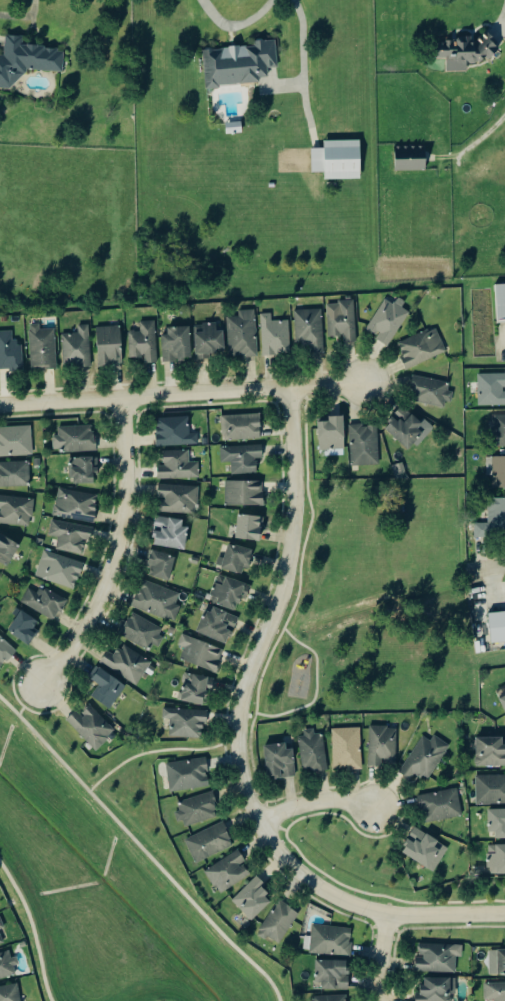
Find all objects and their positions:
road: (240, 27)
road: (502, 33)
building: (467, 52)
building: (27, 60)
building: (240, 64)
road: (304, 66)
building: (232, 128)
building: (409, 158)
building: (341, 159)
building: (499, 302)
building: (341, 321)
building: (388, 321)
building: (308, 330)
building: (242, 335)
building: (275, 336)
building: (208, 341)
building: (144, 343)
building: (177, 345)
building: (109, 346)
building: (421, 348)
building: (42, 349)
building: (76, 349)
building: (10, 353)
building: (491, 390)
building: (430, 393)
road: (181, 396)
building: (241, 427)
building: (407, 429)
building: (500, 431)
building: (174, 432)
building: (331, 434)
building: (74, 439)
building: (15, 442)
building: (364, 446)
building: (242, 459)
building: (177, 466)
building: (82, 471)
building: (496, 471)
building: (14, 475)
building: (244, 494)
building: (177, 499)
building: (75, 506)
building: (16, 511)
building: (493, 519)
building: (249, 528)
building: (169, 534)
building: (70, 536)
building: (7, 551)
road: (114, 552)
building: (237, 558)
building: (160, 566)
road: (489, 569)
building: (59, 570)
road: (493, 587)
building: (227, 593)
building: (44, 602)
building: (156, 602)
park: (375, 605)
building: (218, 626)
building: (496, 627)
building: (24, 628)
building: (141, 632)
building: (5, 652)
building: (200, 654)
building: (126, 664)
building: (106, 689)
building: (194, 689)
road: (28, 701)
building: (503, 702)
building: (185, 723)
building: (91, 727)
road: (236, 745)
building: (381, 746)
building: (346, 749)
road: (155, 751)
building: (312, 752)
building: (490, 753)
building: (424, 758)
building: (279, 762)
building: (187, 775)
building: (490, 790)
road: (314, 803)
building: (439, 806)
building: (197, 810)
building: (497, 824)
building: (208, 843)
road: (141, 849)
building: (424, 851)
building: (496, 860)
building: (228, 872)
building: (252, 899)
building: (278, 923)
building: (1, 925)
road: (31, 930)
building: (1, 939)
building: (330, 941)
road: (380, 957)
building: (437, 958)
building: (501, 962)
building: (7, 966)
building: (332, 974)
building: (437, 989)
building: (494, 992)
building: (9, 993)
building: (329, 999)

